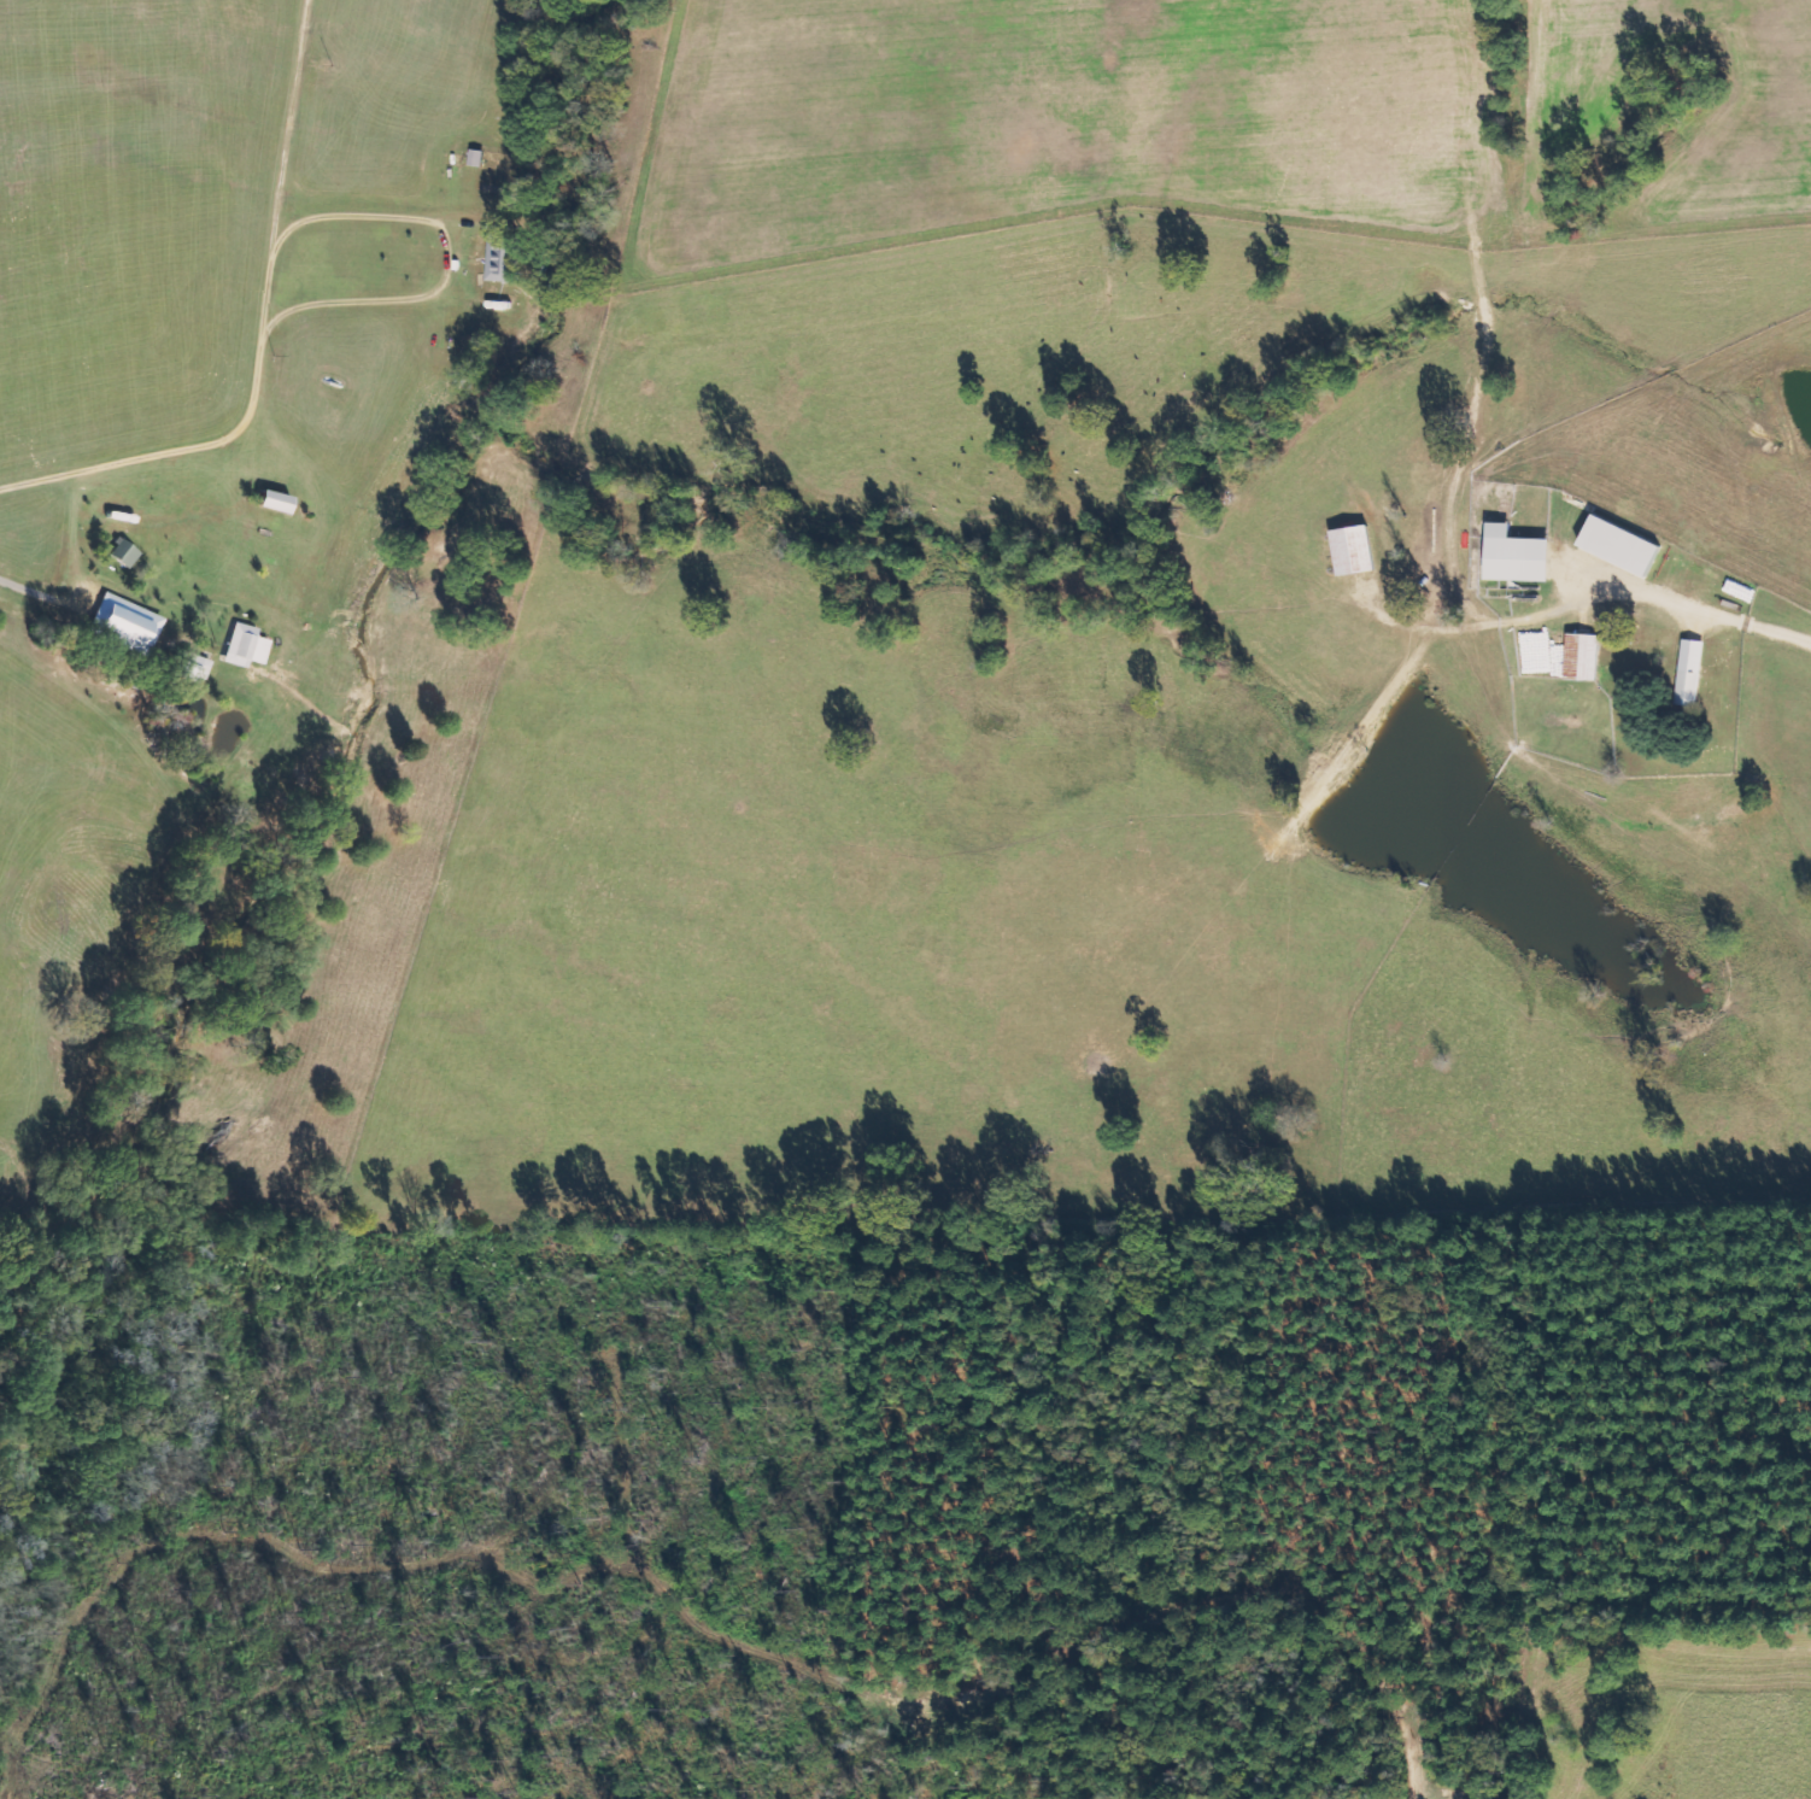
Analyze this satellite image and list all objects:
building: (498, 258)
building: (272, 500)
building: (1618, 544)
building: (1352, 549)
building: (1514, 553)
road: (1698, 598)
building: (124, 622)
building: (244, 645)
building: (1582, 655)
building: (1689, 672)

